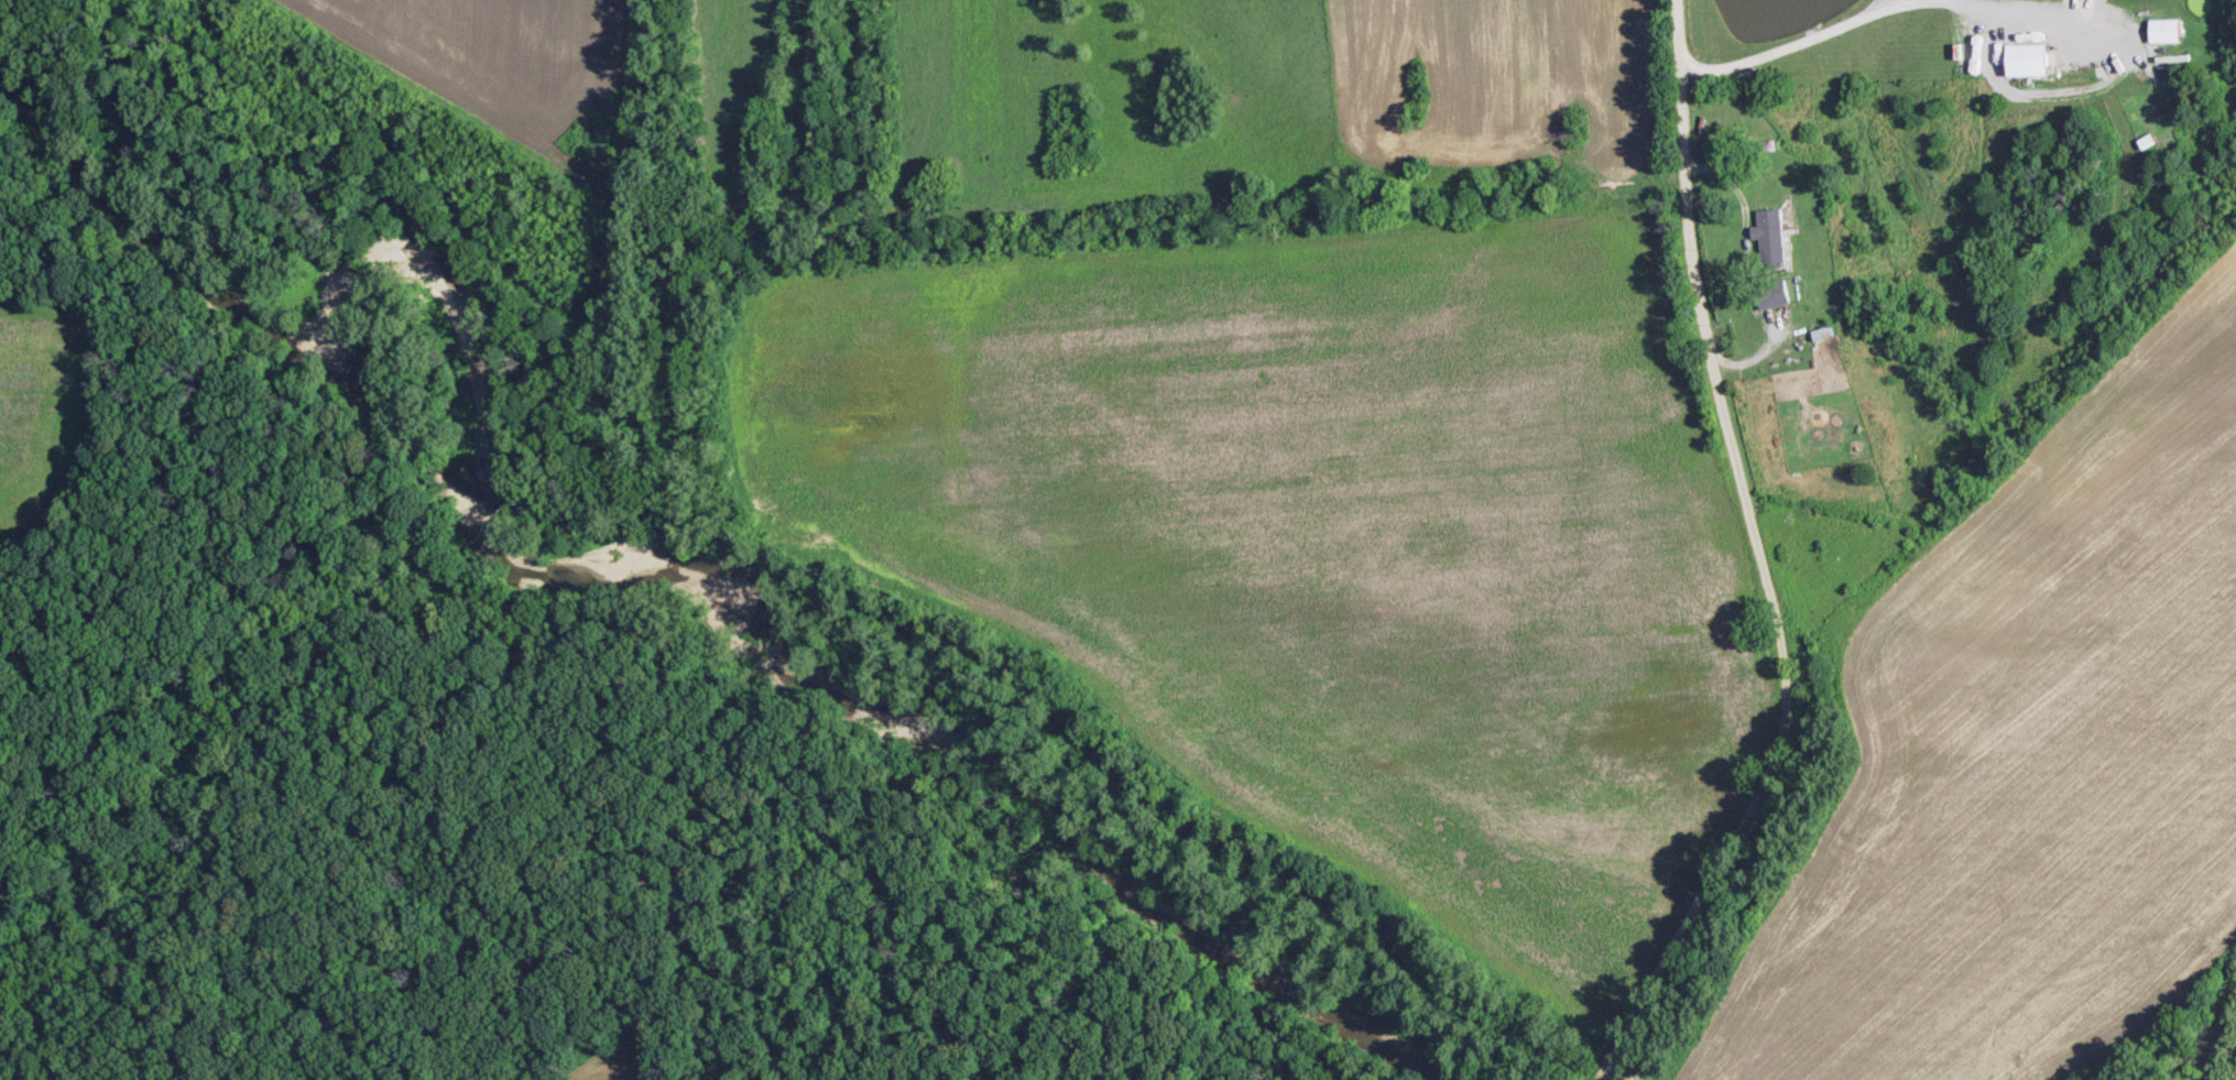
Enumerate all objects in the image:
building: (2169, 30)
road: (1833, 32)
building: (2032, 58)
road: (2046, 96)
building: (1776, 239)
building: (1777, 293)
road: (1778, 349)
river: (622, 558)
road: (1763, 560)
river: (2221, 1043)

